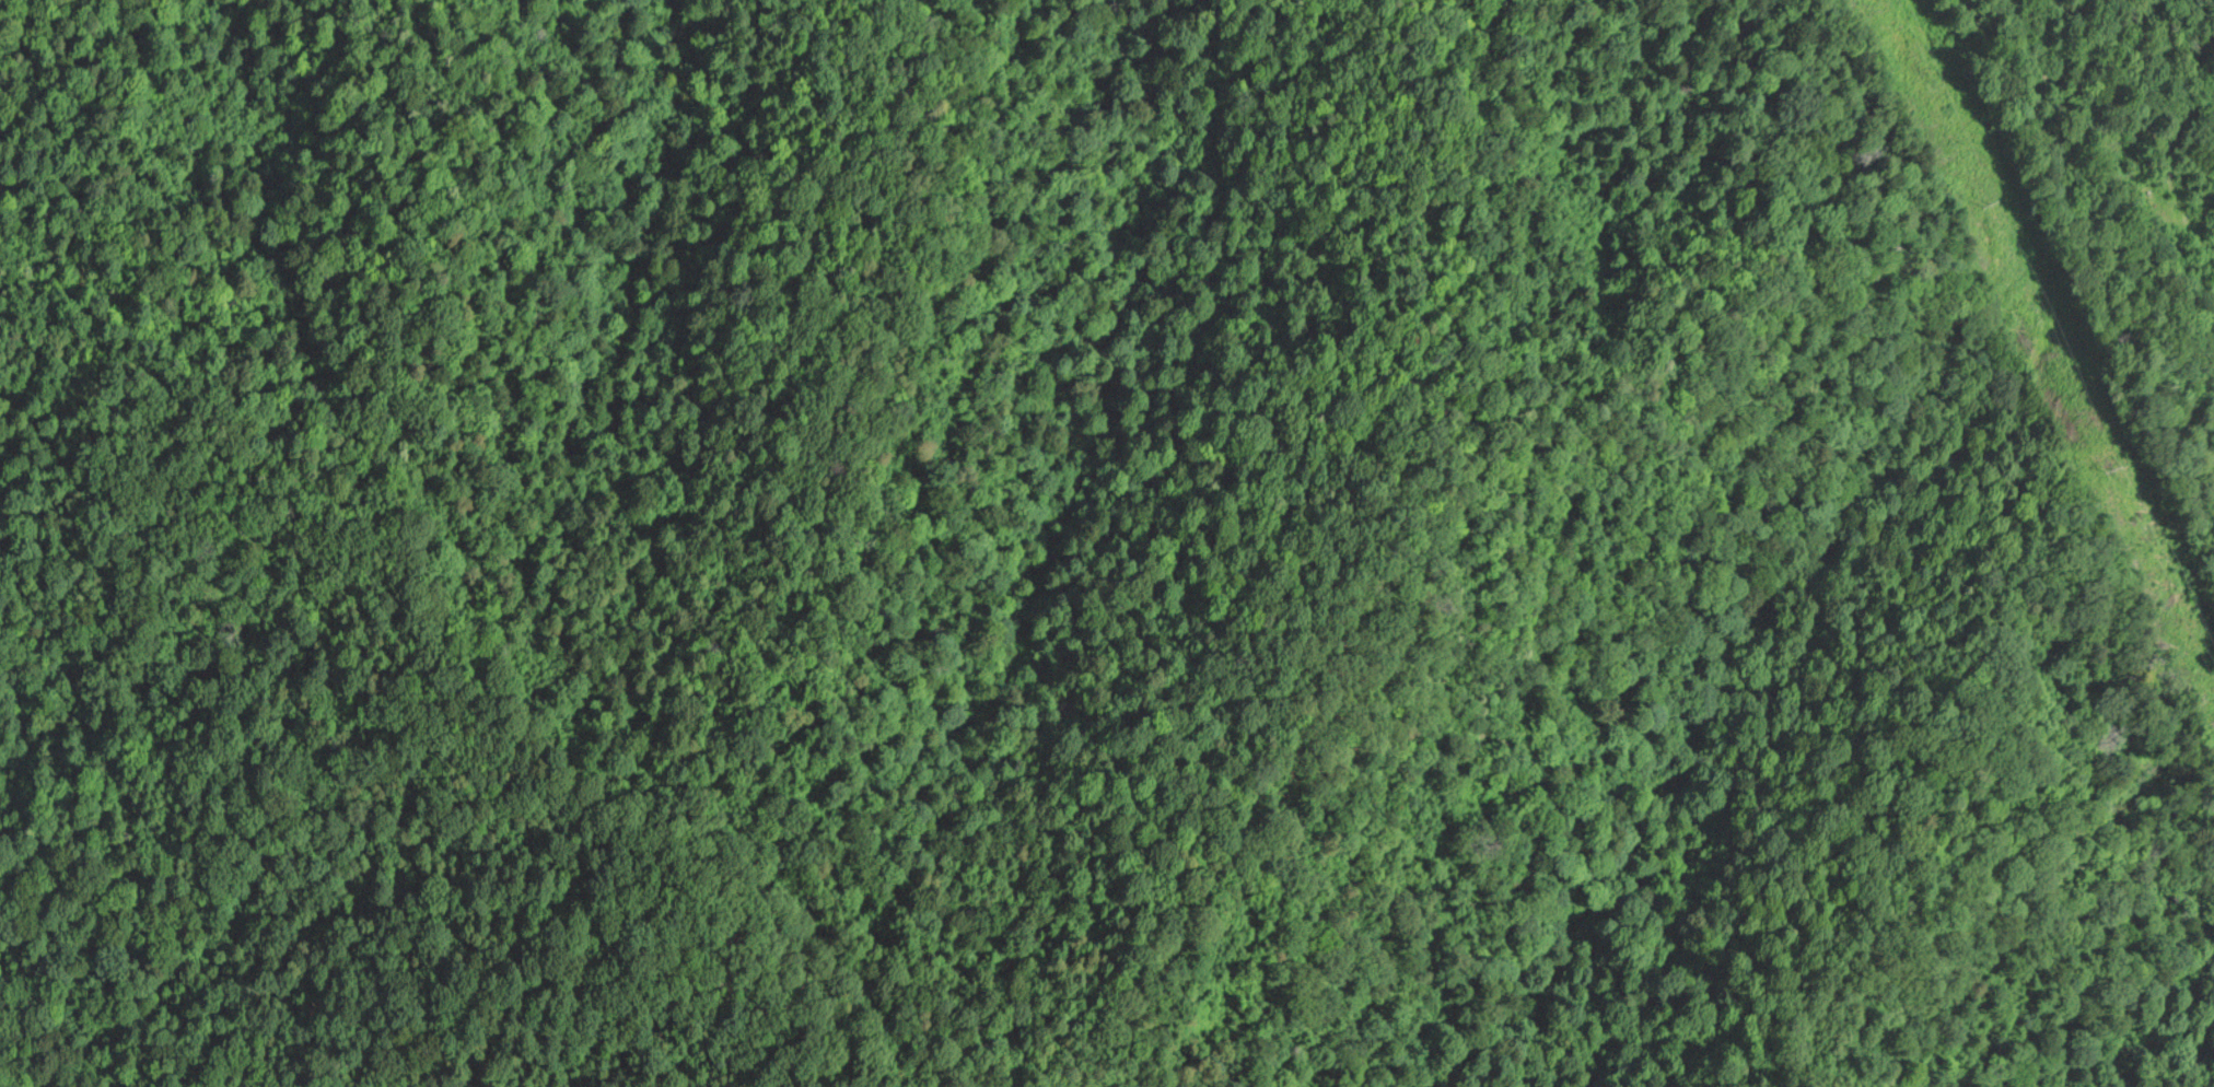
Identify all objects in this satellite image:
road: (2108, 85)

